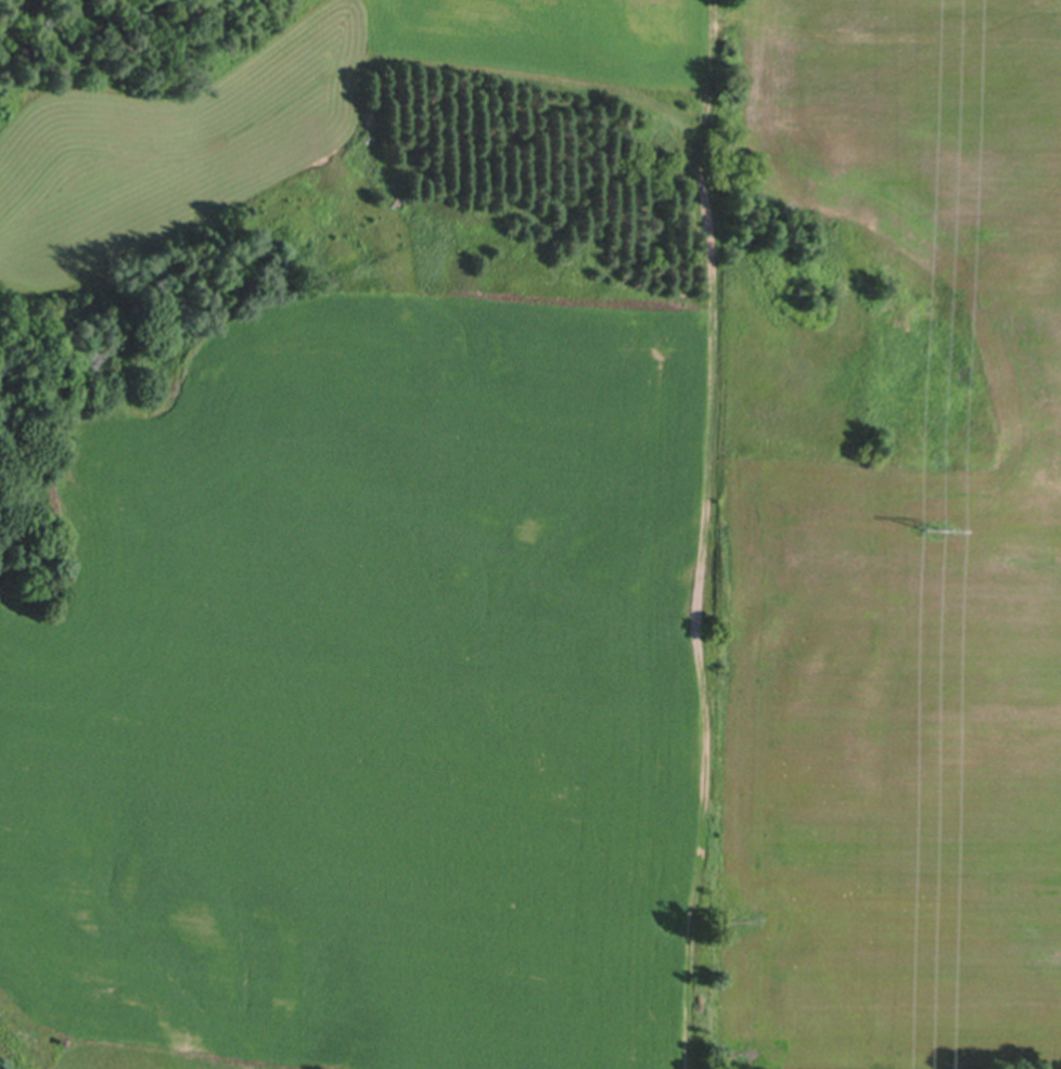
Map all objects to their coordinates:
power tower: (931, 526)

